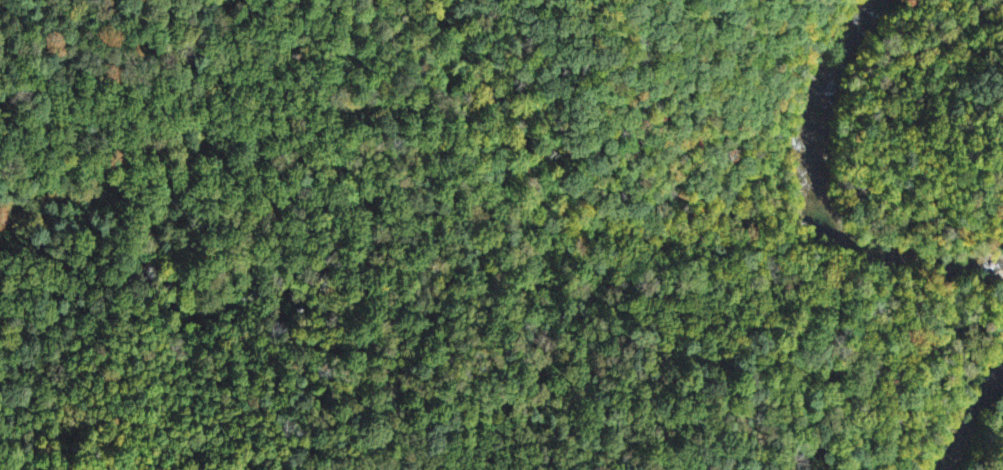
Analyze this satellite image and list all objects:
river: (845, 113)
road: (909, 143)
river: (925, 270)
river: (981, 445)

